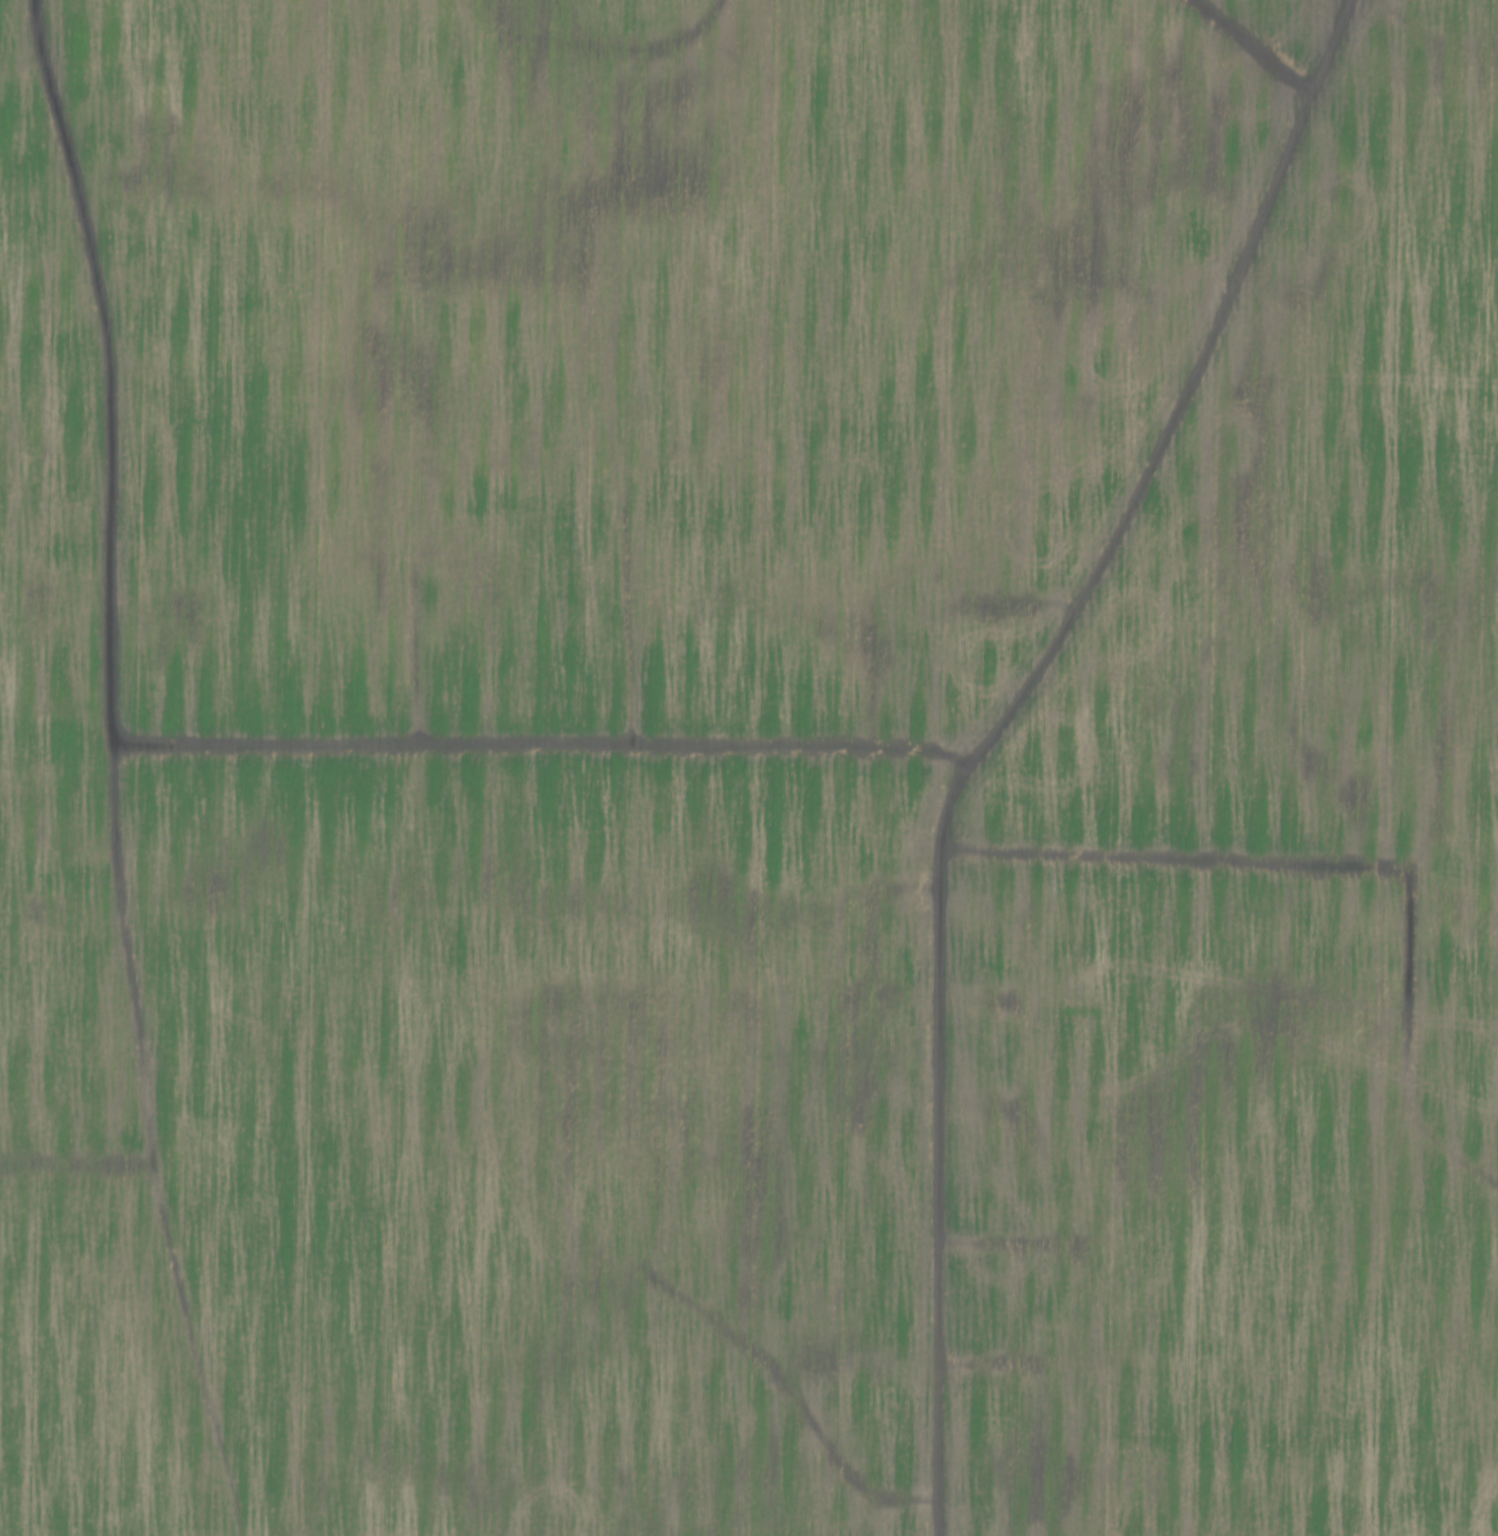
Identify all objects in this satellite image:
crop: (749, 768)

